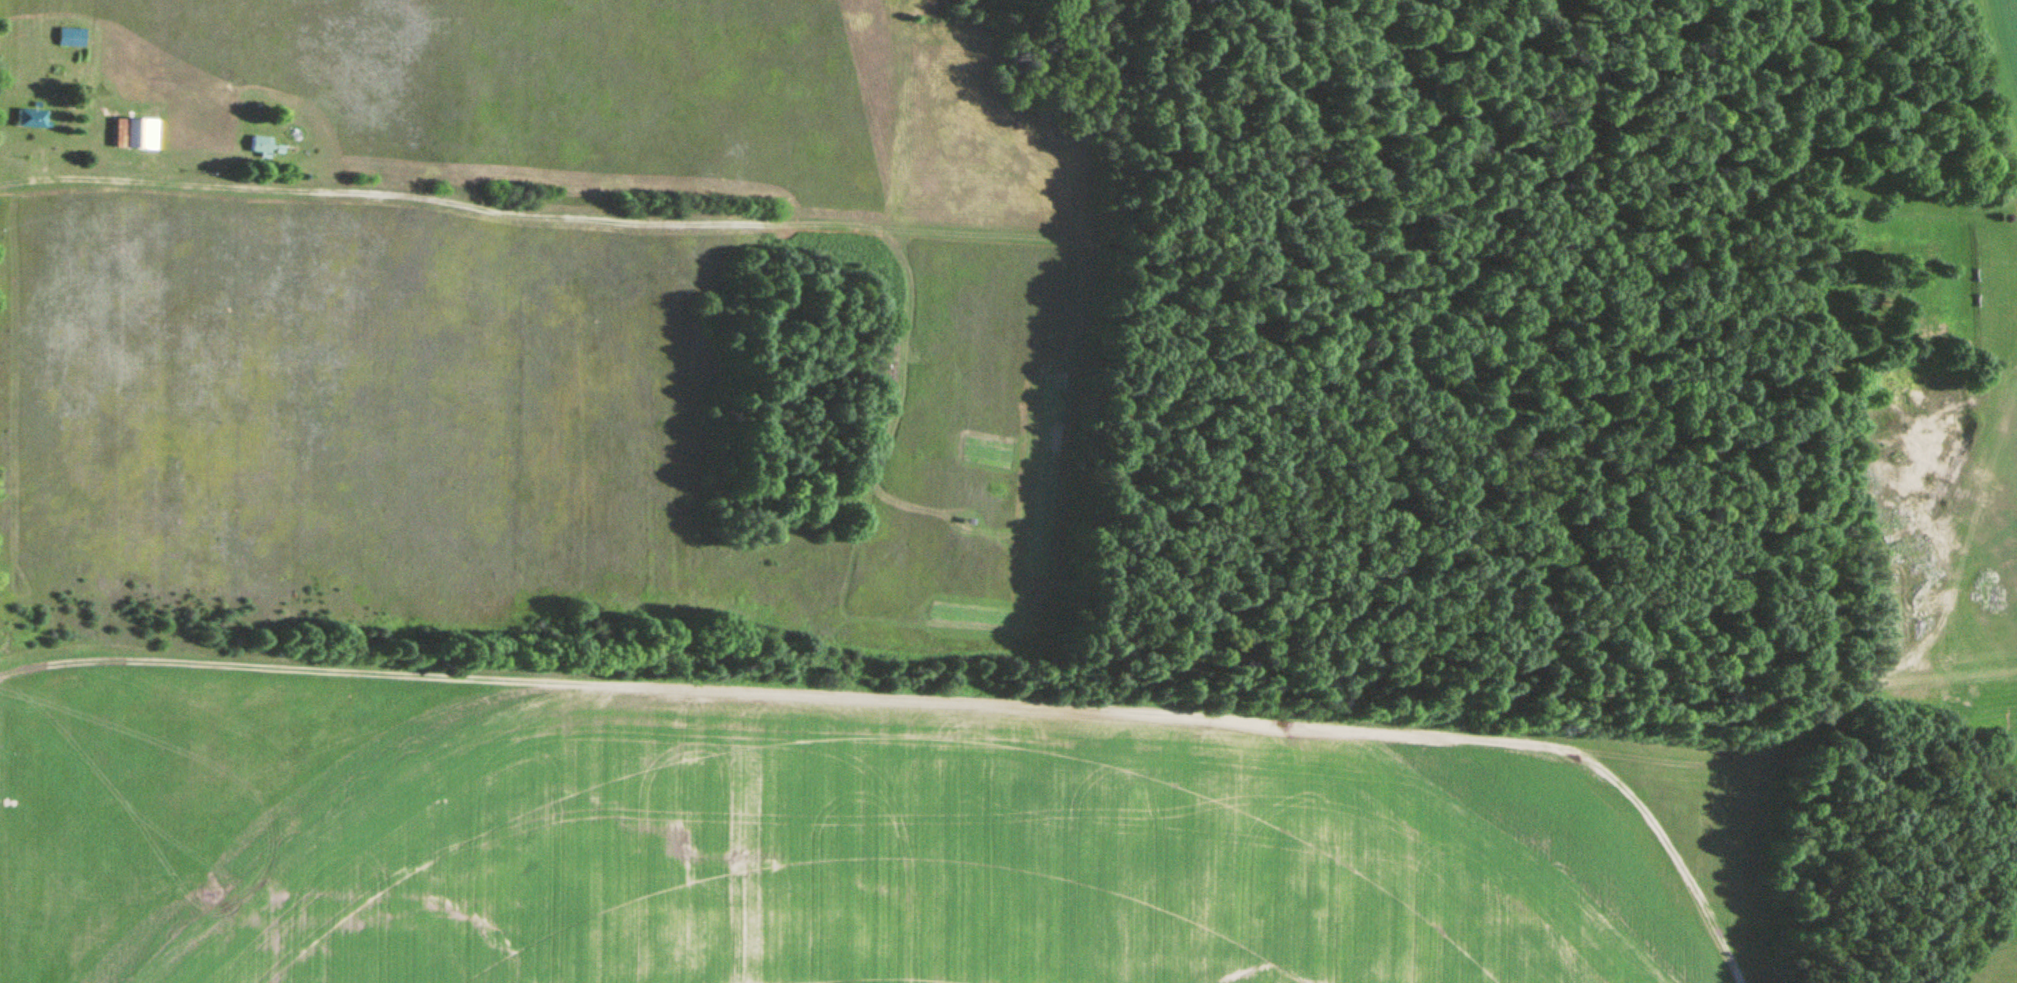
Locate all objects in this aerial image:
building: (61, 37)
building: (30, 118)
building: (128, 132)
building: (258, 145)
road: (271, 176)
road: (135, 181)
road: (550, 212)

